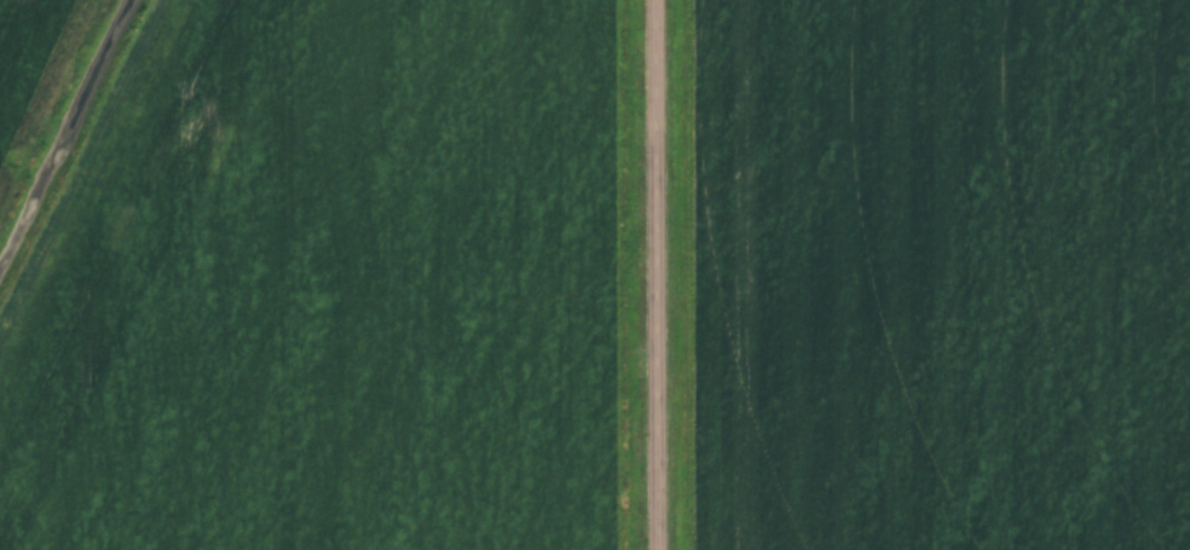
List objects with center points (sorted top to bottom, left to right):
road: (653, 274)
crop: (943, 274)

